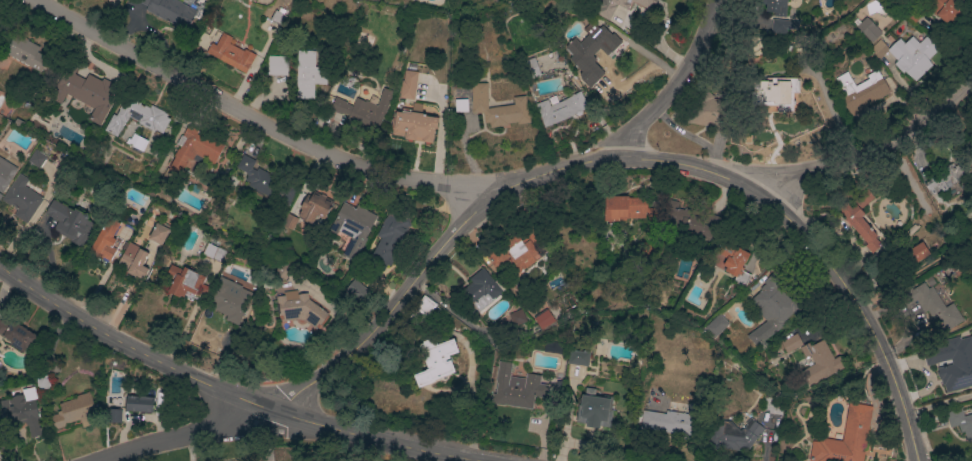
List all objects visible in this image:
building: (111, 0)
building: (773, 4)
building: (942, 8)
building: (601, 9)
building: (170, 11)
building: (782, 25)
building: (868, 28)
building: (889, 37)
building: (588, 40)
building: (878, 48)
building: (230, 52)
building: (28, 54)
building: (912, 55)
building: (277, 64)
building: (530, 67)
building: (307, 73)
road: (677, 80)
building: (407, 83)
building: (775, 92)
building: (87, 95)
building: (864, 95)
building: (497, 107)
building: (559, 107)
building: (364, 110)
building: (709, 110)
road: (258, 113)
building: (138, 120)
building: (413, 125)
building: (136, 143)
road: (624, 154)
road: (864, 155)
building: (35, 159)
building: (6, 175)
building: (256, 177)
building: (944, 181)
building: (21, 199)
building: (623, 207)
building: (317, 208)
building: (859, 219)
building: (687, 221)
building: (69, 222)
building: (353, 228)
building: (159, 234)
building: (391, 237)
building: (107, 241)
building: (518, 252)
building: (915, 252)
building: (732, 257)
building: (135, 261)
building: (929, 279)
building: (185, 281)
building: (477, 287)
building: (355, 290)
building: (231, 302)
building: (930, 303)
building: (771, 306)
building: (299, 307)
building: (516, 316)
building: (543, 318)
building: (715, 324)
building: (18, 335)
building: (788, 342)
building: (578, 357)
building: (435, 360)
building: (952, 361)
building: (819, 362)
building: (522, 387)
road: (241, 401)
building: (141, 405)
road: (937, 406)
building: (593, 409)
building: (23, 411)
building: (75, 412)
building: (666, 421)
building: (961, 423)
road: (186, 436)
building: (742, 437)
building: (844, 437)

